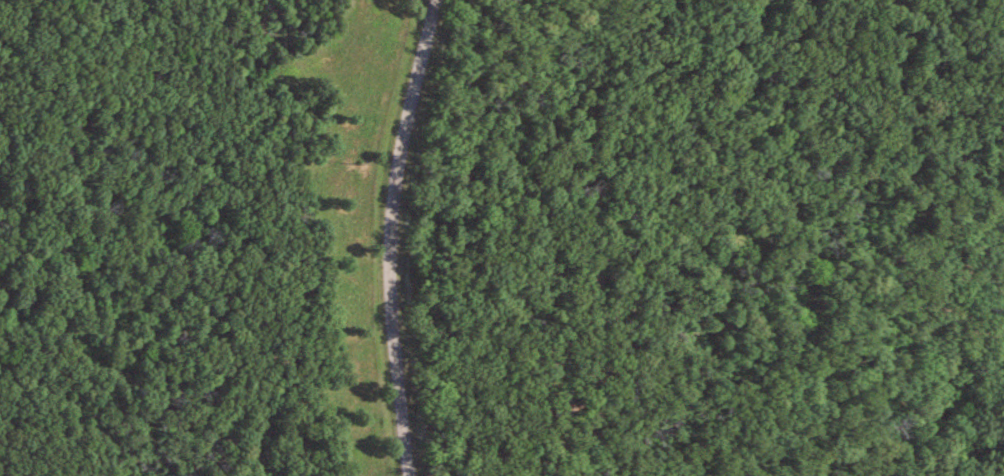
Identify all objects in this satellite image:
road: (395, 235)

